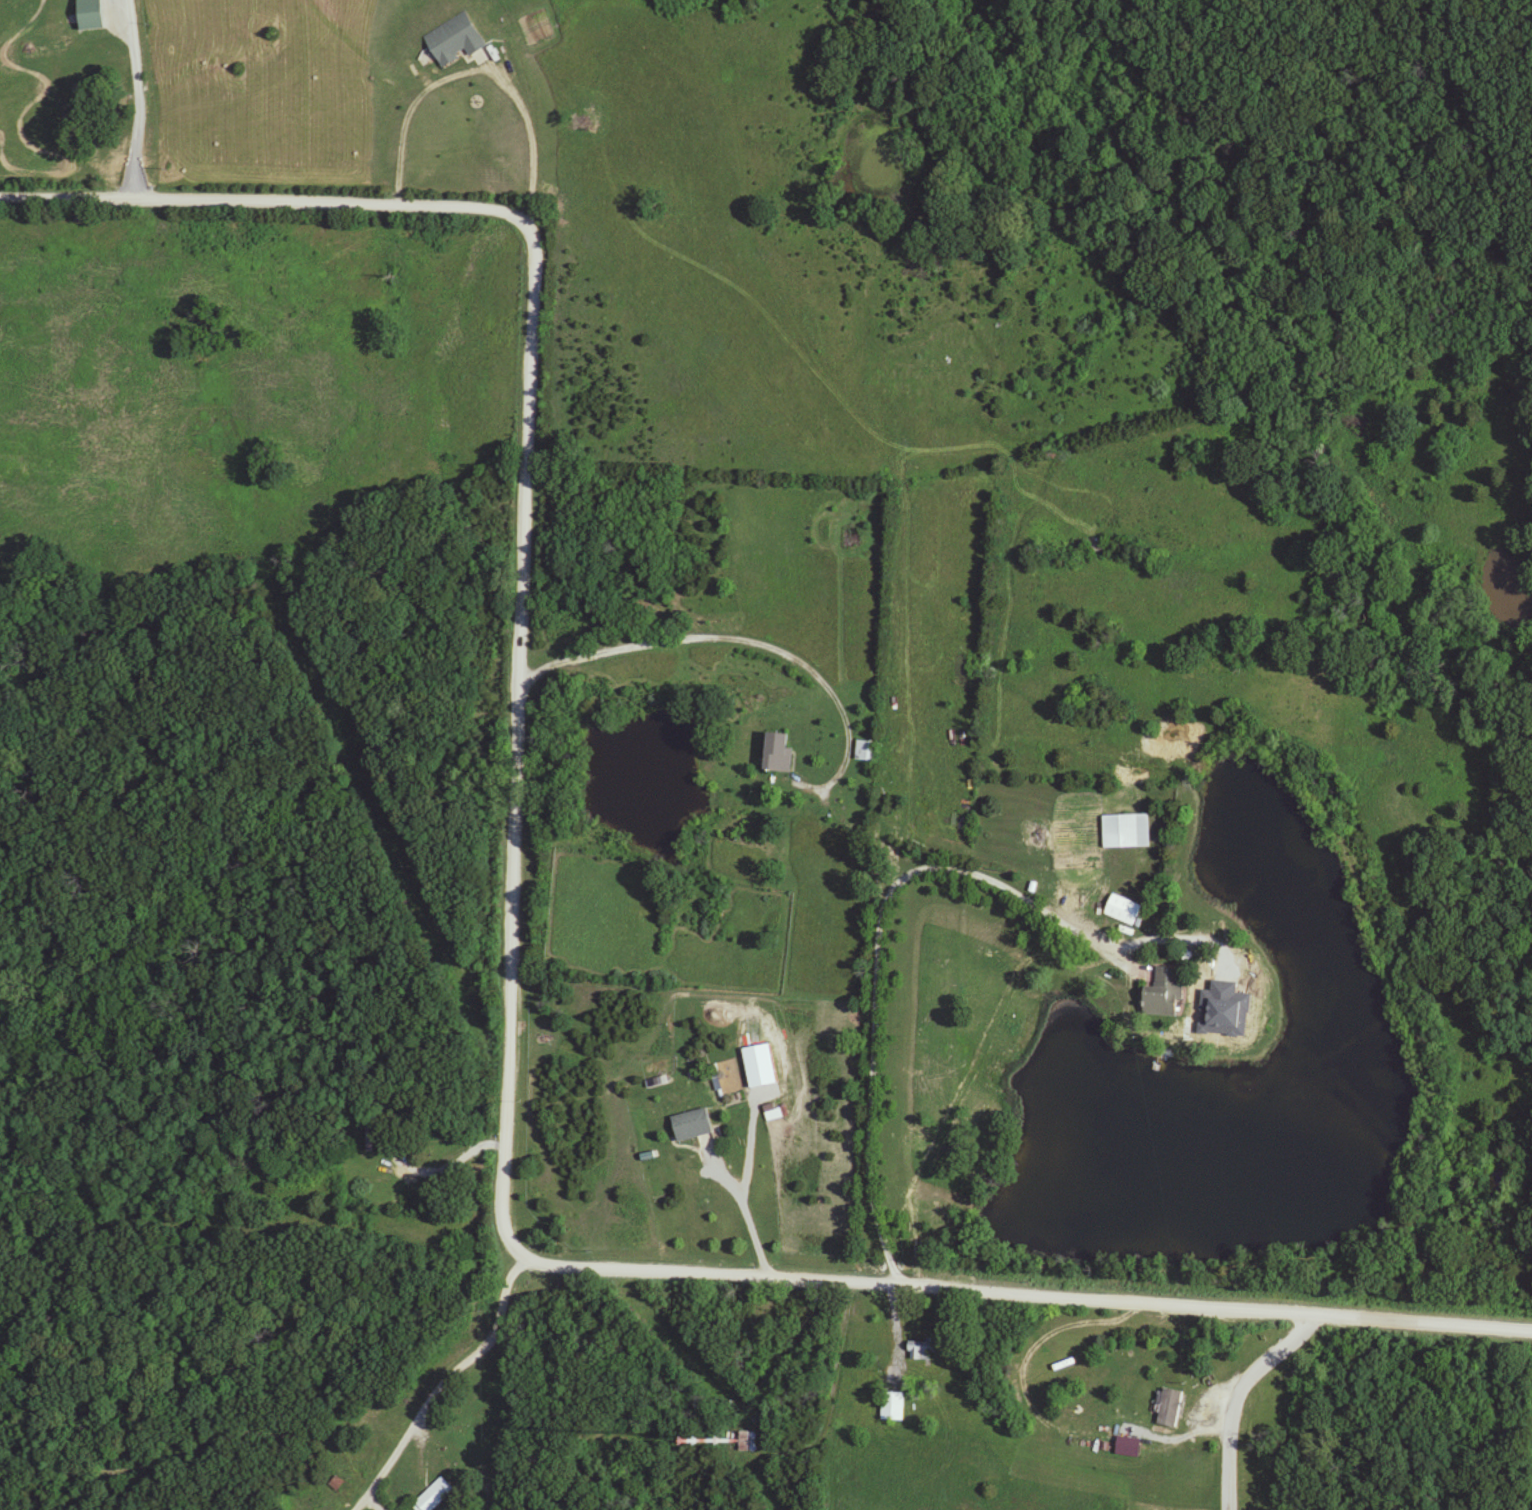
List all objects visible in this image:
building: (93, 15)
building: (457, 42)
road: (475, 72)
road: (135, 100)
road: (763, 649)
building: (781, 751)
building: (866, 751)
building: (1127, 831)
building: (1124, 910)
road: (512, 986)
building: (1165, 993)
road: (875, 1001)
building: (774, 1112)
building: (694, 1125)
building: (370, 1136)
road: (449, 1171)
road: (744, 1215)
building: (926, 1349)
road: (443, 1387)
road: (1229, 1399)
building: (893, 1406)
road: (832, 1407)
building: (1172, 1407)
building: (741, 1441)
building: (434, 1496)

